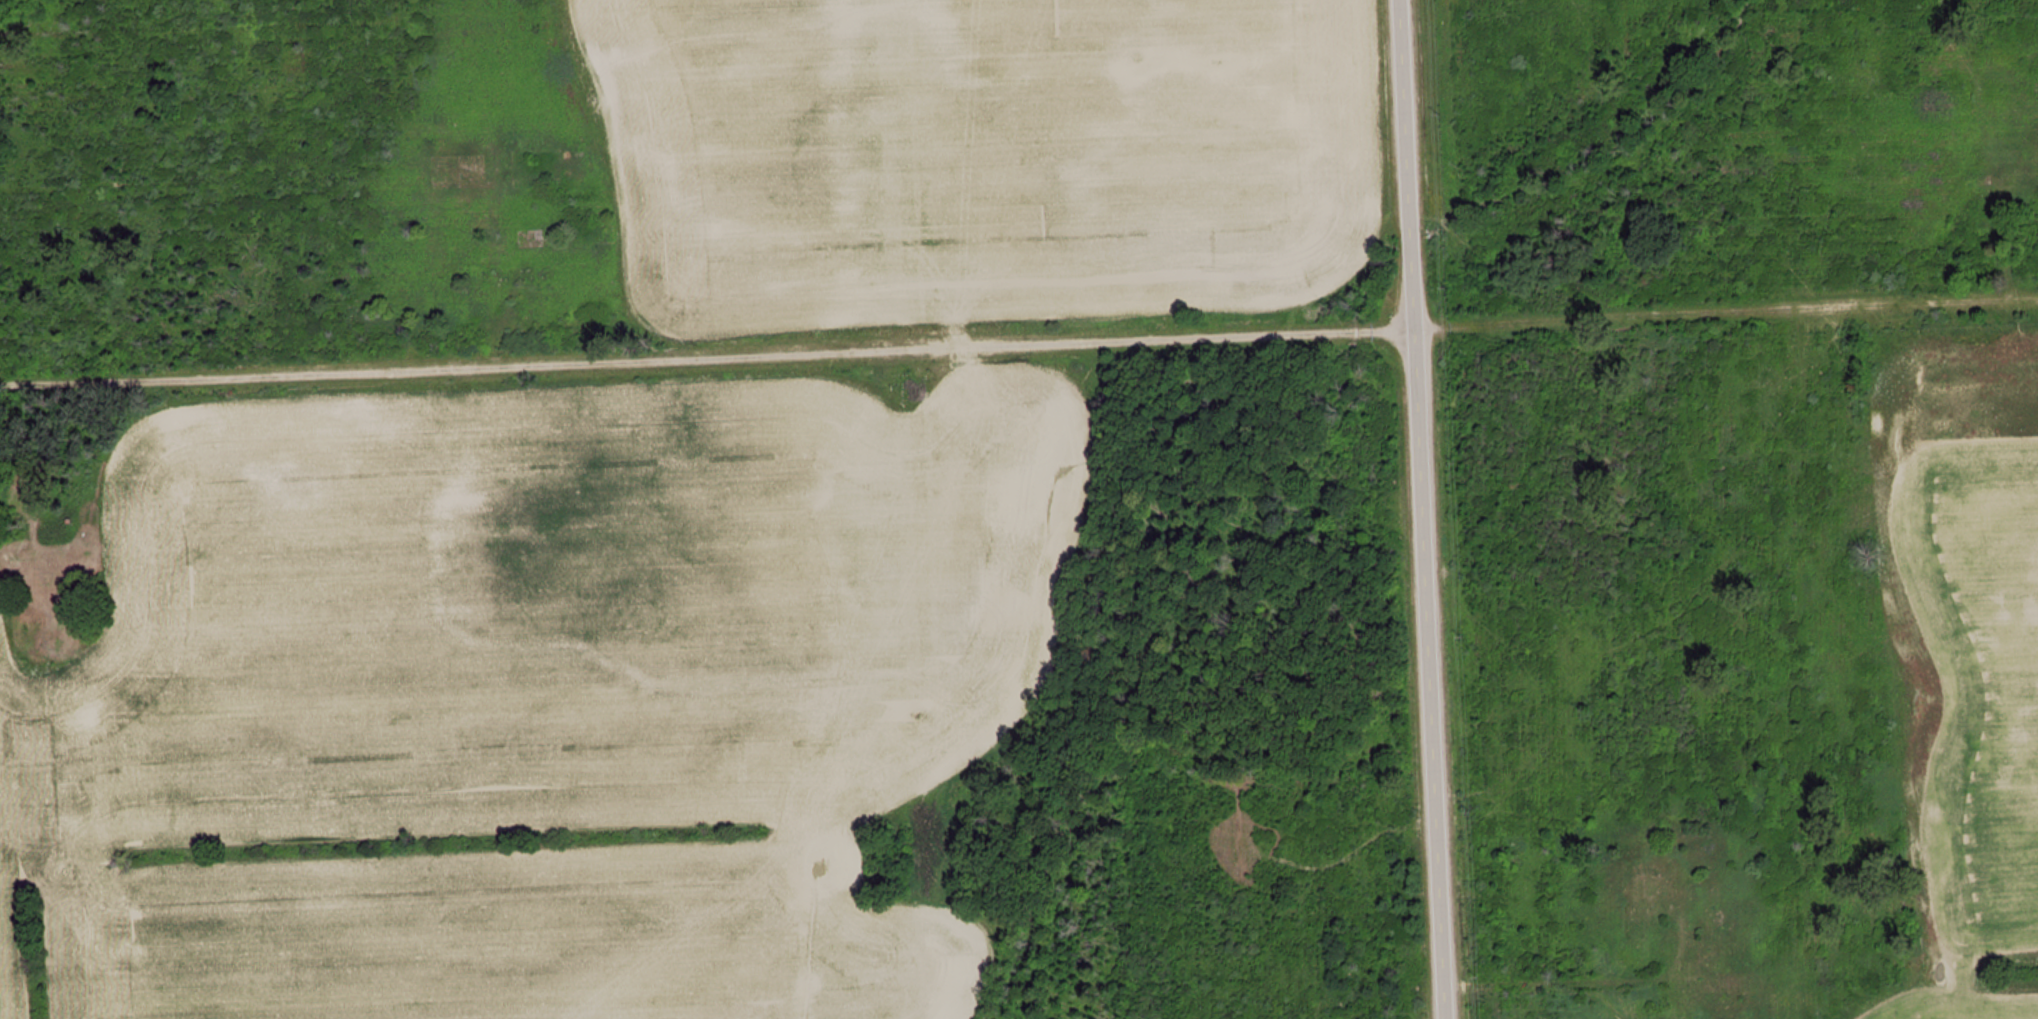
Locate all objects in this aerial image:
road: (706, 357)
road: (1421, 509)

